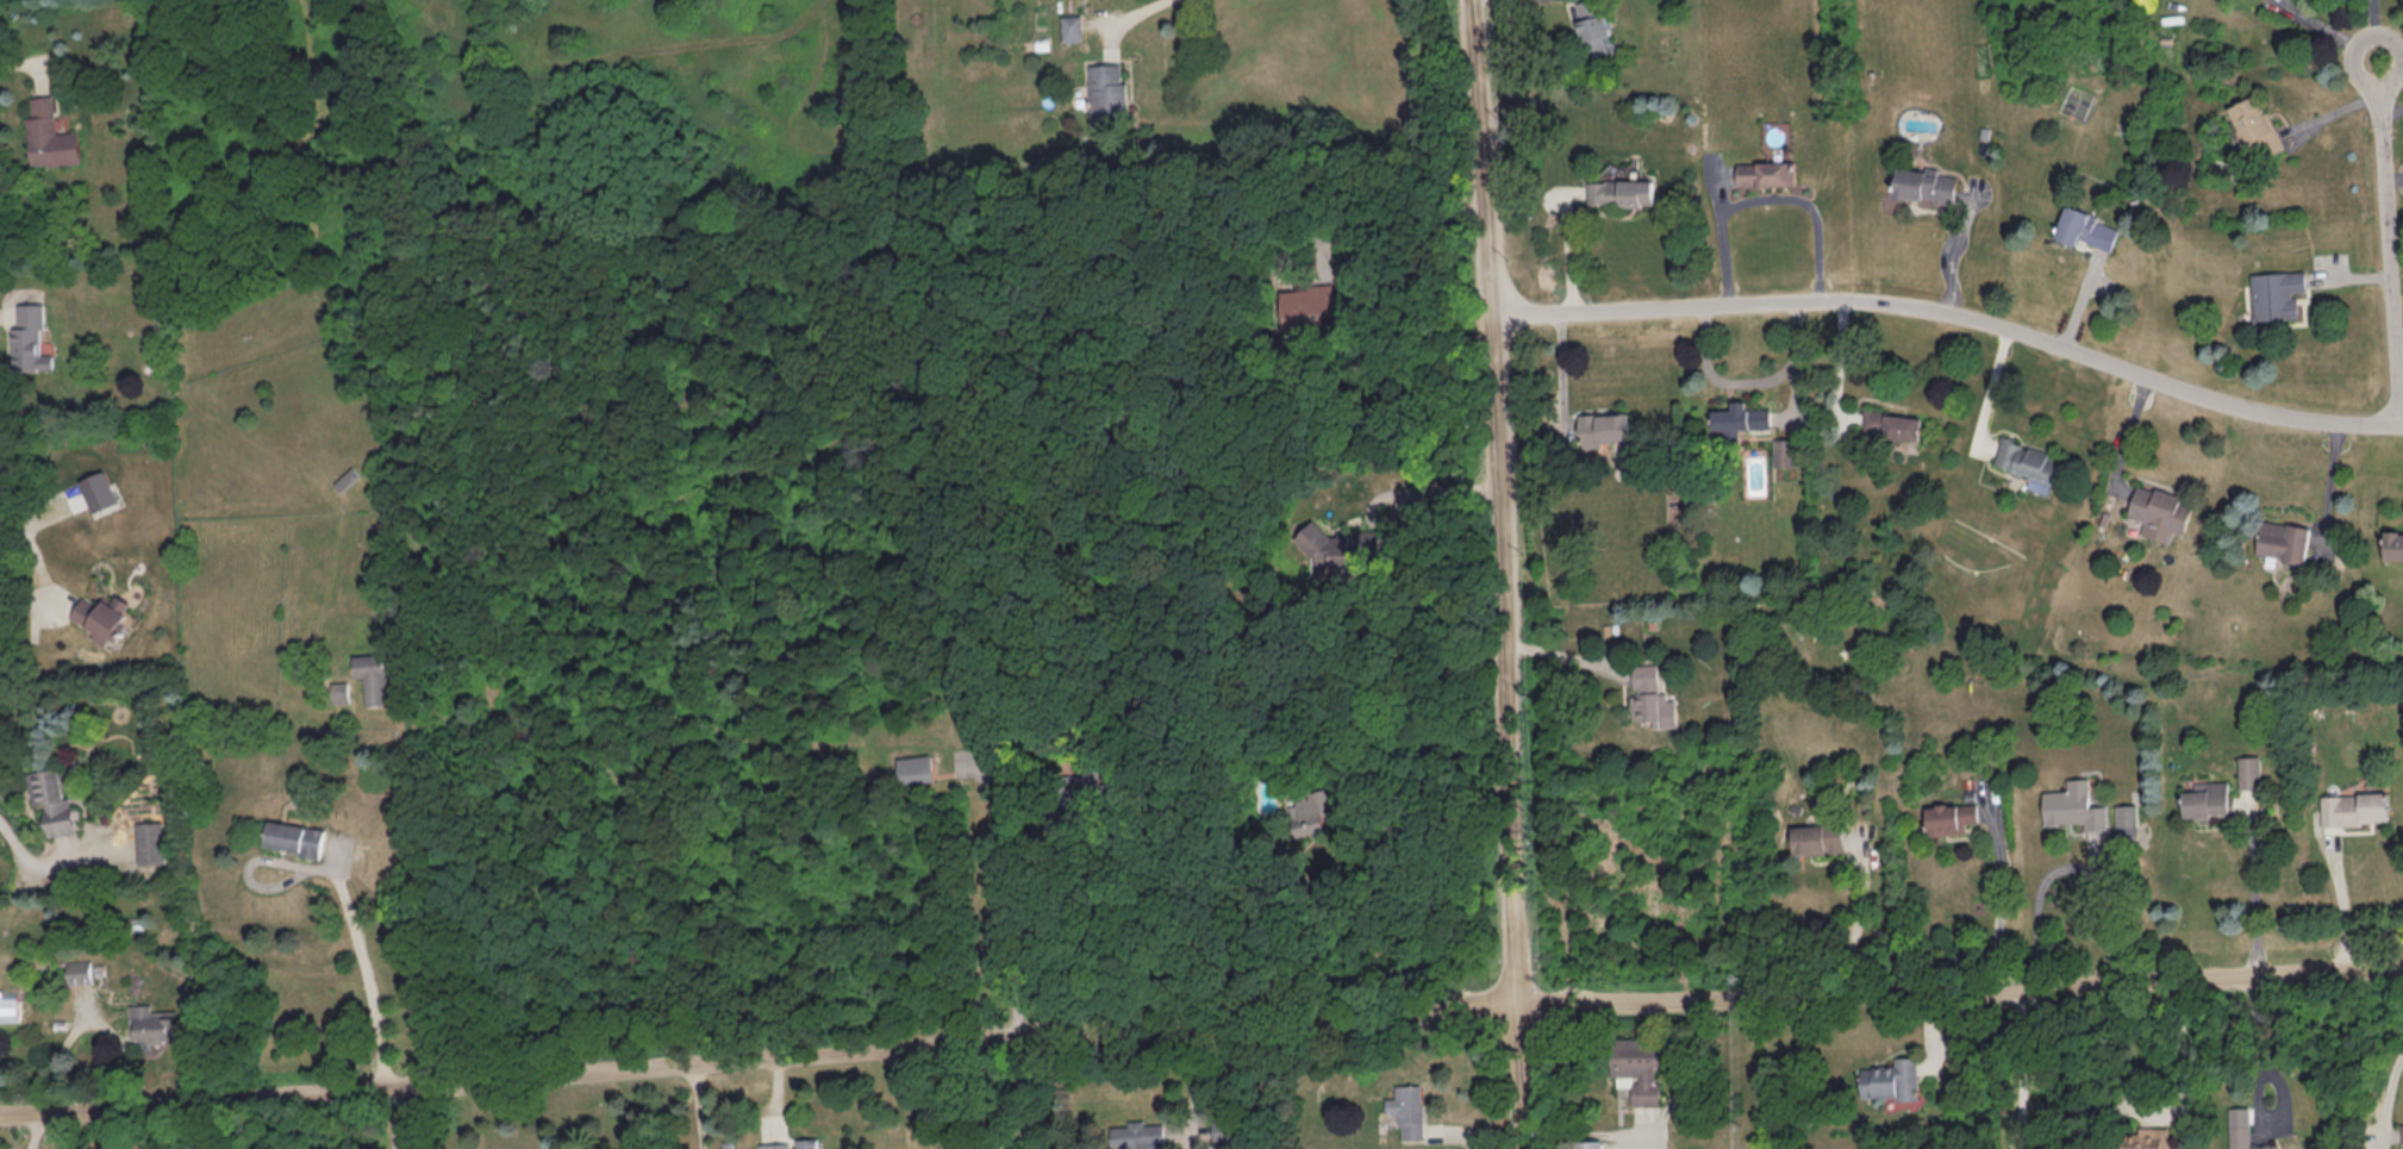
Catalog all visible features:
road: (1132, 13)
building: (1593, 25)
building: (1073, 27)
road: (18, 61)
building: (1107, 95)
road: (2390, 113)
building: (2254, 126)
building: (49, 135)
building: (1765, 173)
building: (1923, 185)
building: (1619, 191)
road: (1766, 200)
road: (1393, 226)
building: (2084, 227)
road: (2388, 242)
road: (1569, 246)
road: (1952, 251)
building: (2274, 293)
building: (1307, 305)
road: (1954, 314)
building: (30, 338)
road: (1840, 363)
road: (1563, 377)
road: (1753, 382)
road: (1991, 389)
building: (1740, 418)
building: (1891, 424)
building: (1604, 427)
building: (1784, 451)
building: (2028, 463)
road: (1435, 488)
building: (99, 491)
building: (2159, 511)
building: (2283, 539)
building: (2392, 545)
building: (1343, 547)
road: (37, 555)
road: (1499, 574)
building: (106, 617)
building: (372, 676)
building: (339, 692)
building: (1650, 697)
building: (915, 768)
building: (2248, 770)
building: (51, 798)
building: (2207, 799)
building: (2073, 805)
building: (2353, 807)
building: (1313, 810)
building: (2126, 814)
building: (1948, 817)
building: (294, 837)
building: (1816, 837)
building: (149, 842)
road: (25, 855)
road: (2066, 864)
road: (2254, 895)
road: (1006, 903)
road: (1995, 910)
road: (2346, 910)
road: (1856, 918)
road: (1361, 950)
building: (79, 970)
road: (366, 972)
road: (1959, 991)
building: (10, 1005)
building: (152, 1023)
road: (2259, 1051)
road: (757, 1059)
road: (2180, 1063)
building: (1637, 1066)
road: (2022, 1068)
building: (1890, 1079)
road: (2388, 1094)
building: (1408, 1109)
road: (376, 1118)
building: (2241, 1129)
building: (1221, 1130)
building: (2402, 1132)
building: (1136, 1135)
building: (2145, 1138)
building: (792, 1144)
building: (1590, 1144)
building: (1693, 1148)

